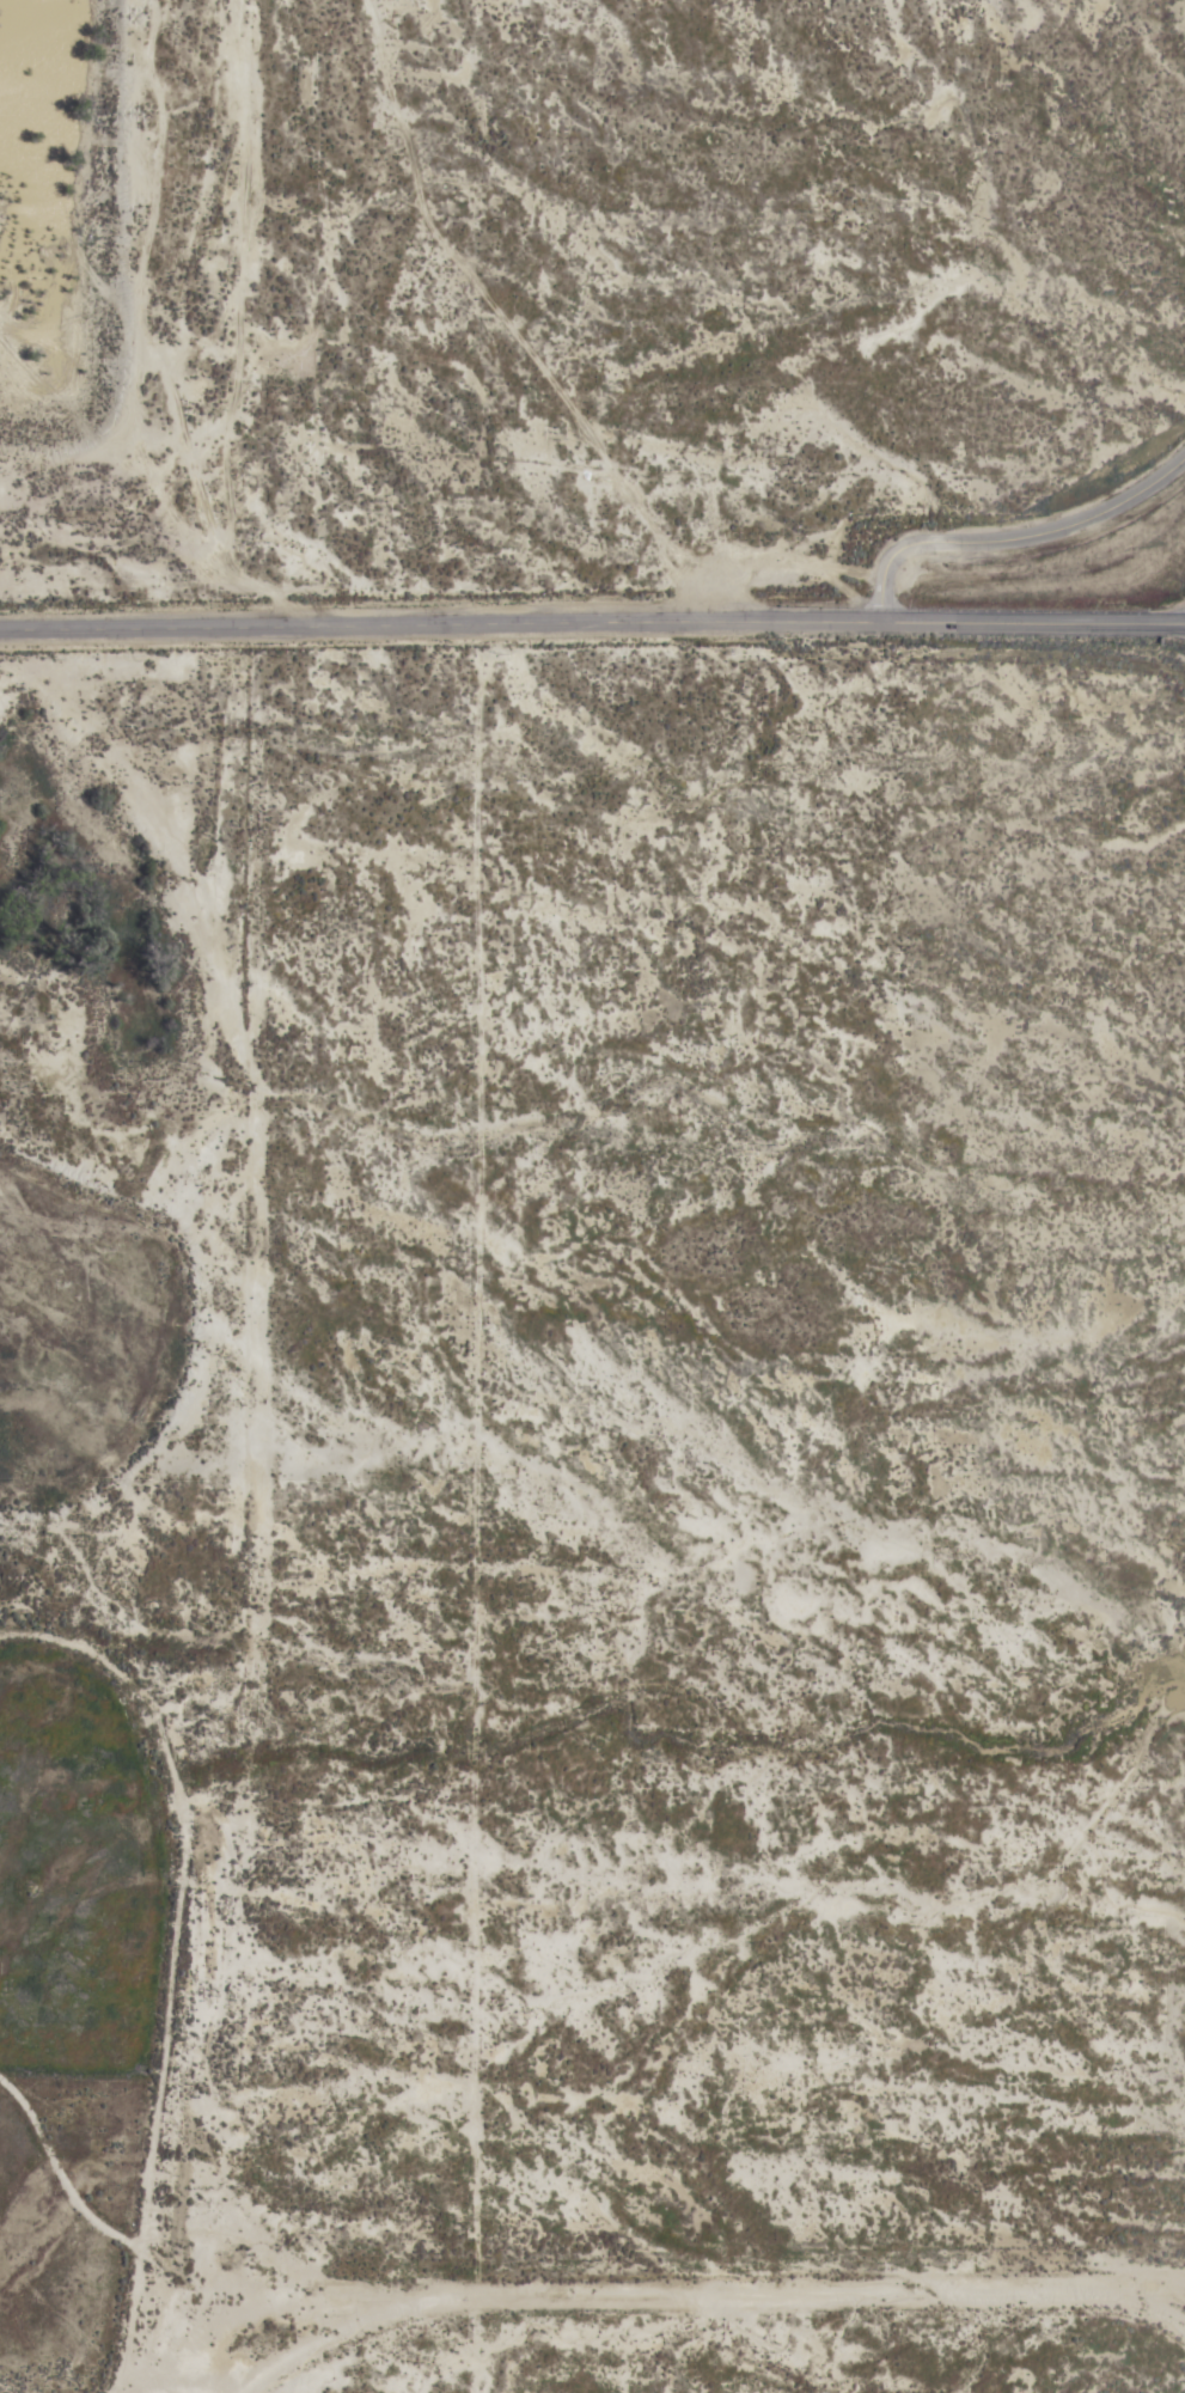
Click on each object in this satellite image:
road: (1013, 539)
road: (592, 625)

